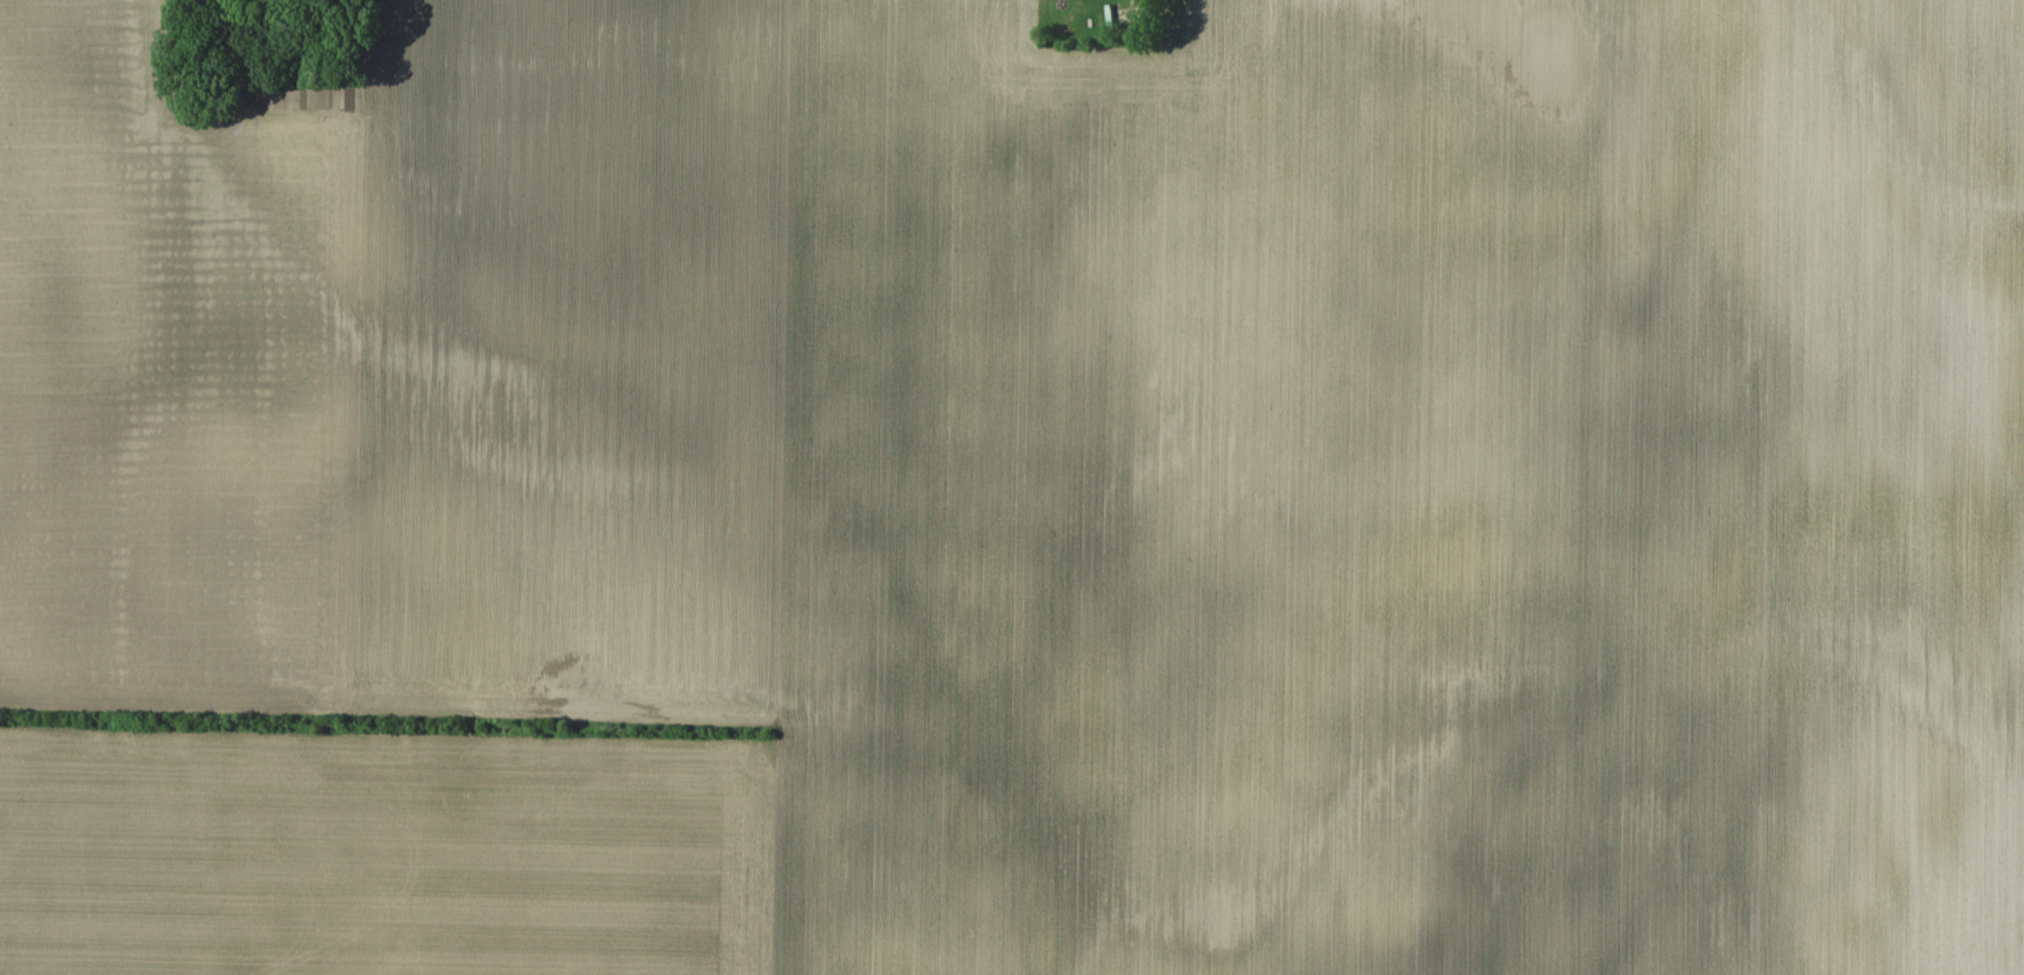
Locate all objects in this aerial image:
crop: (1018, 493)

